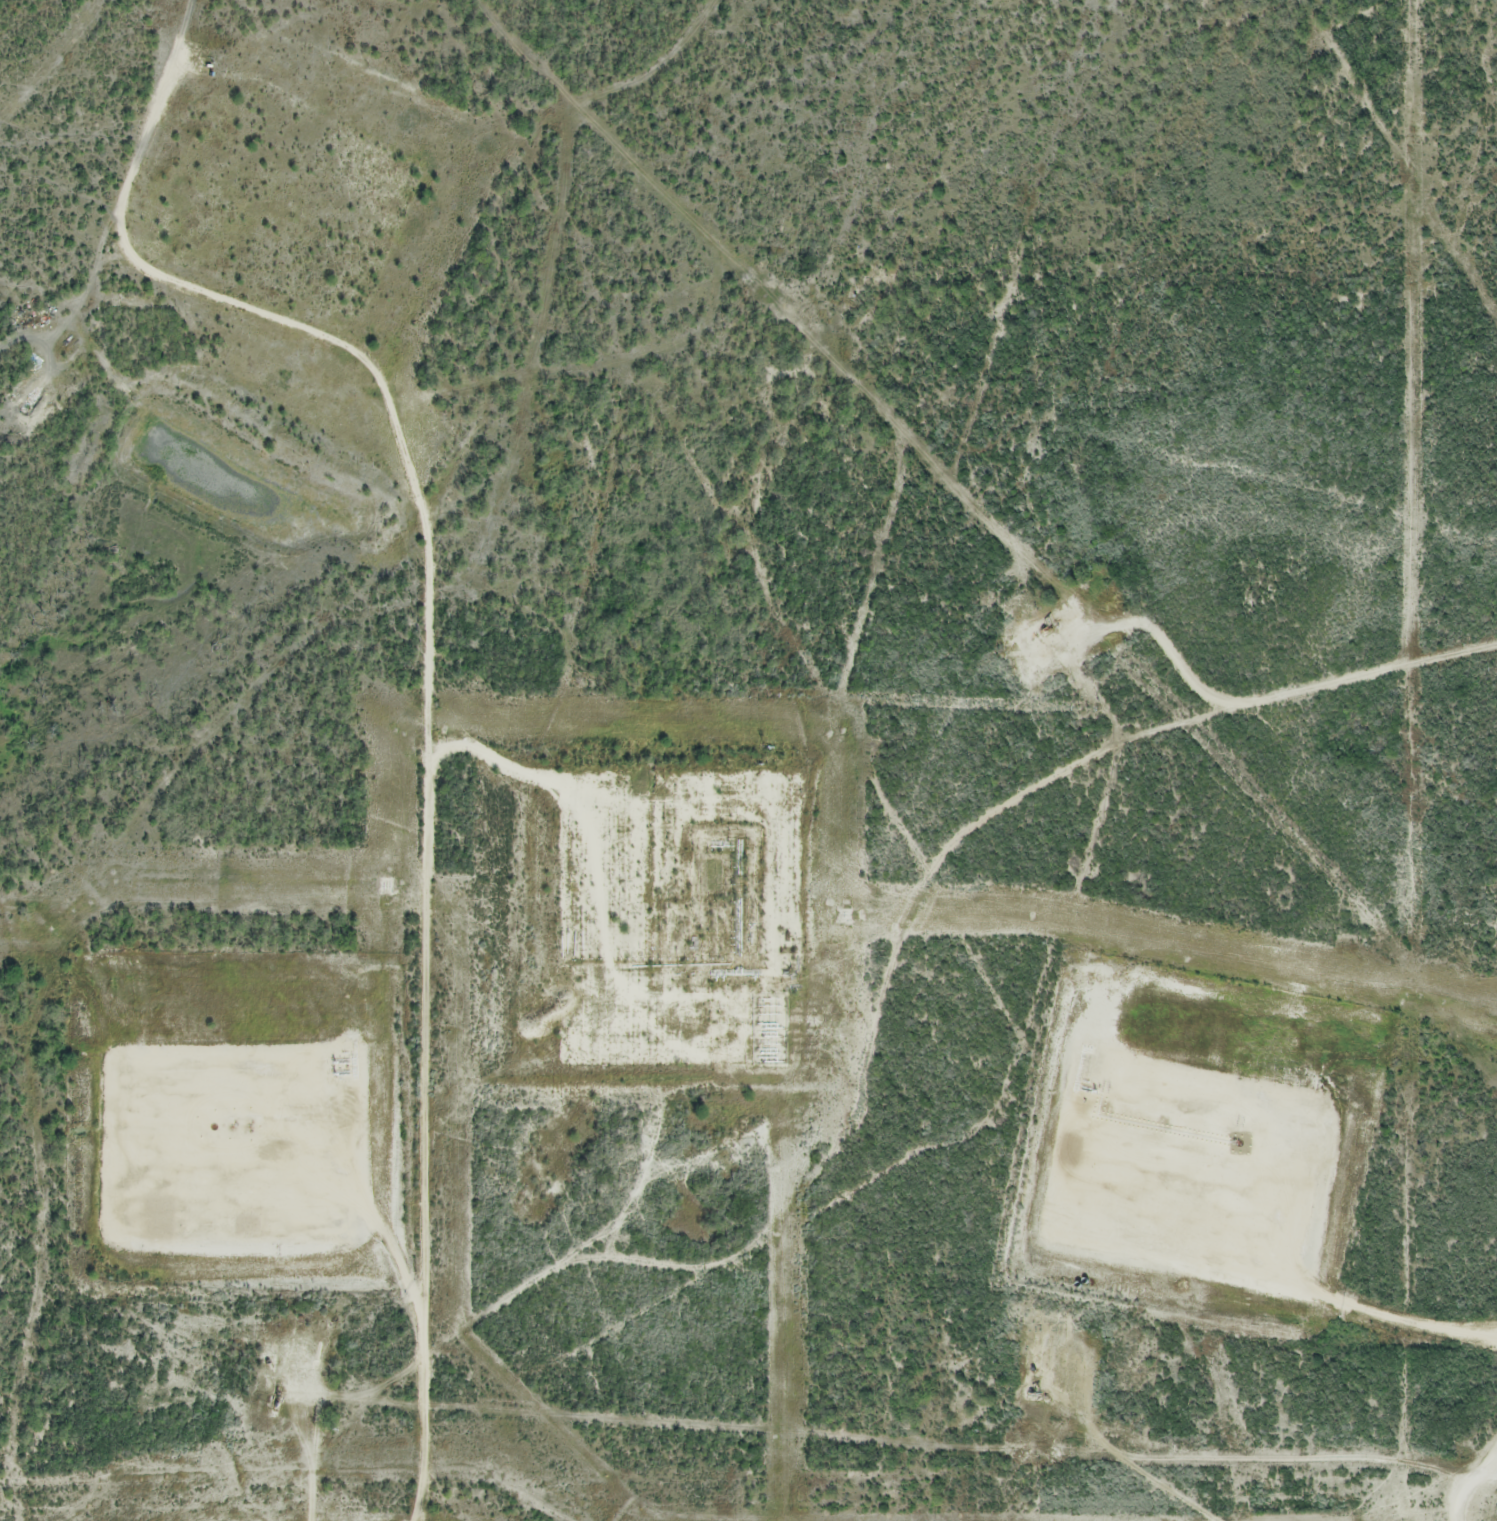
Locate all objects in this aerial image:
building: (176, 13)

